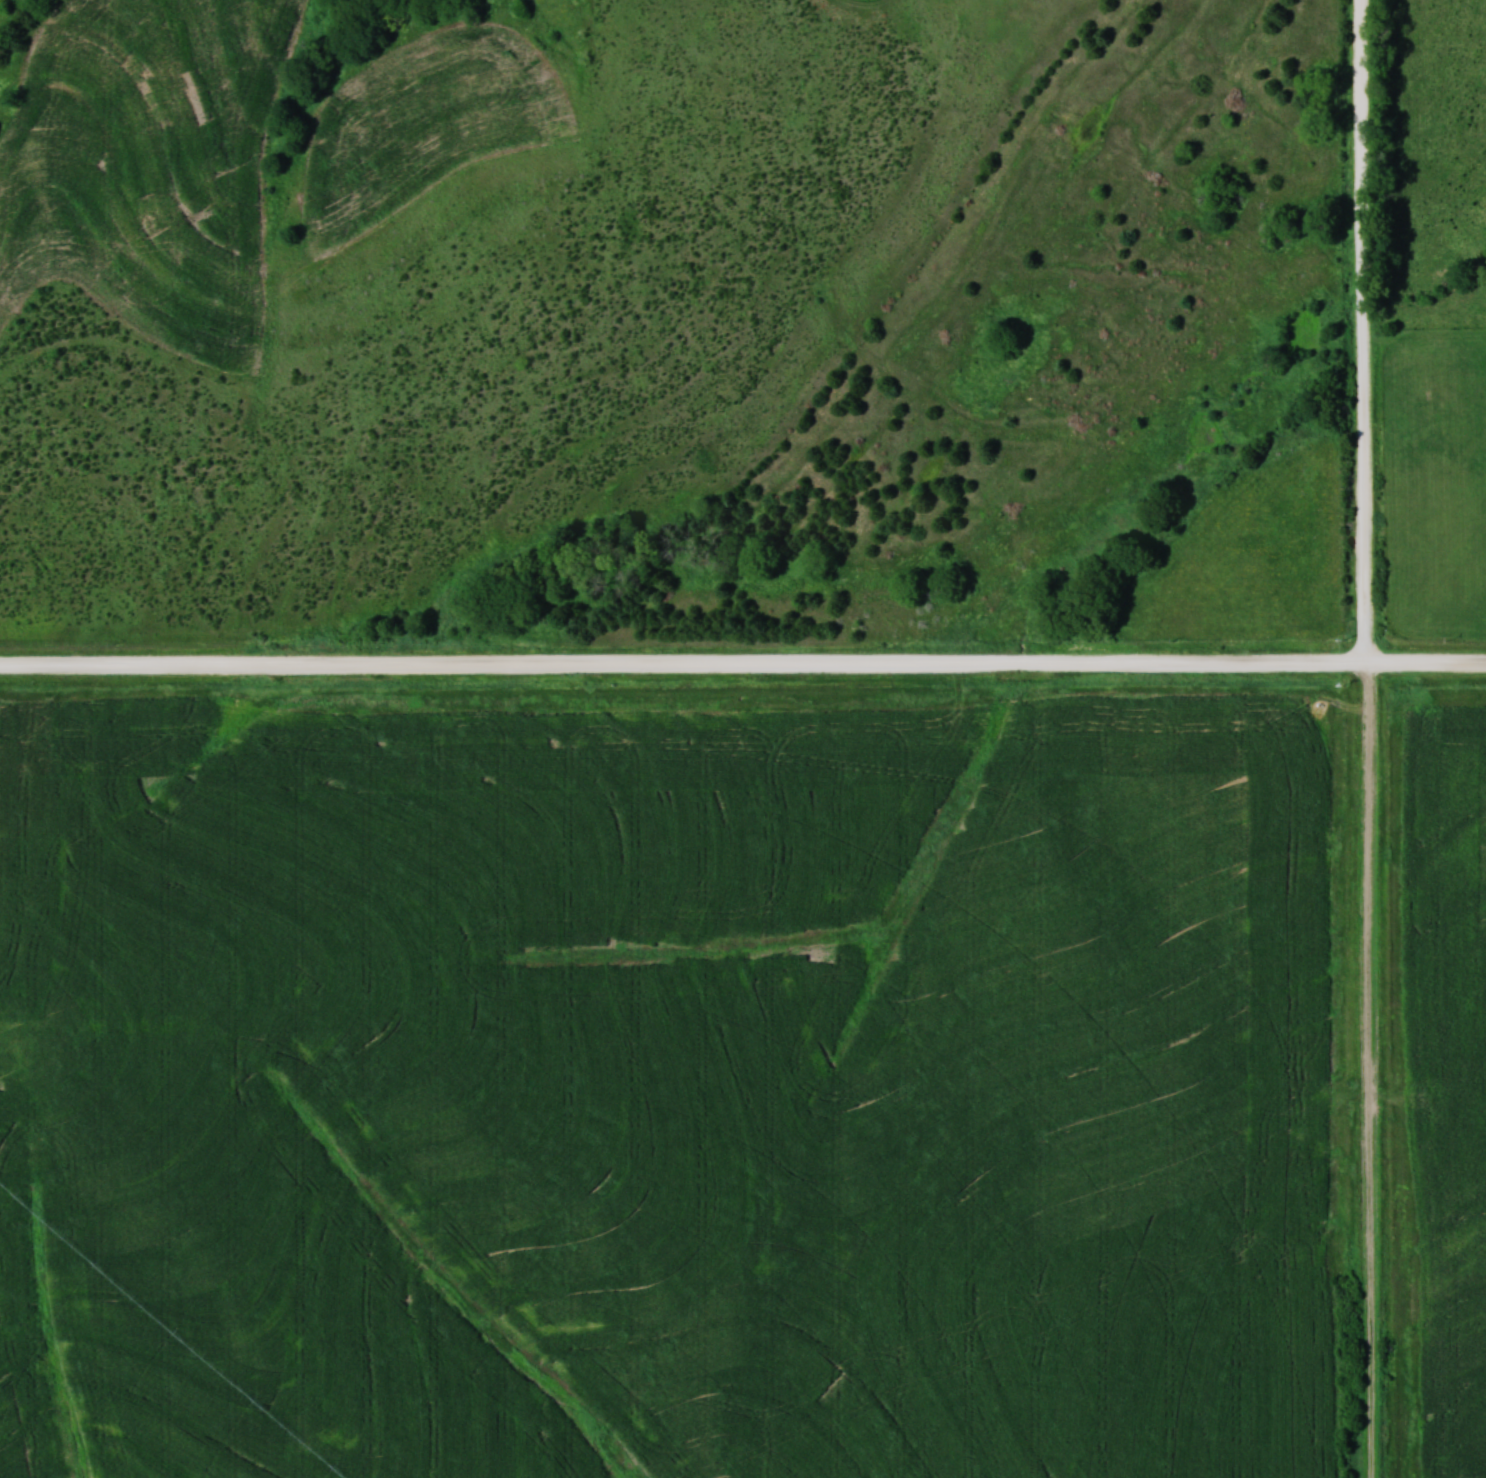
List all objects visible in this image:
road: (743, 665)
road: (1371, 738)

